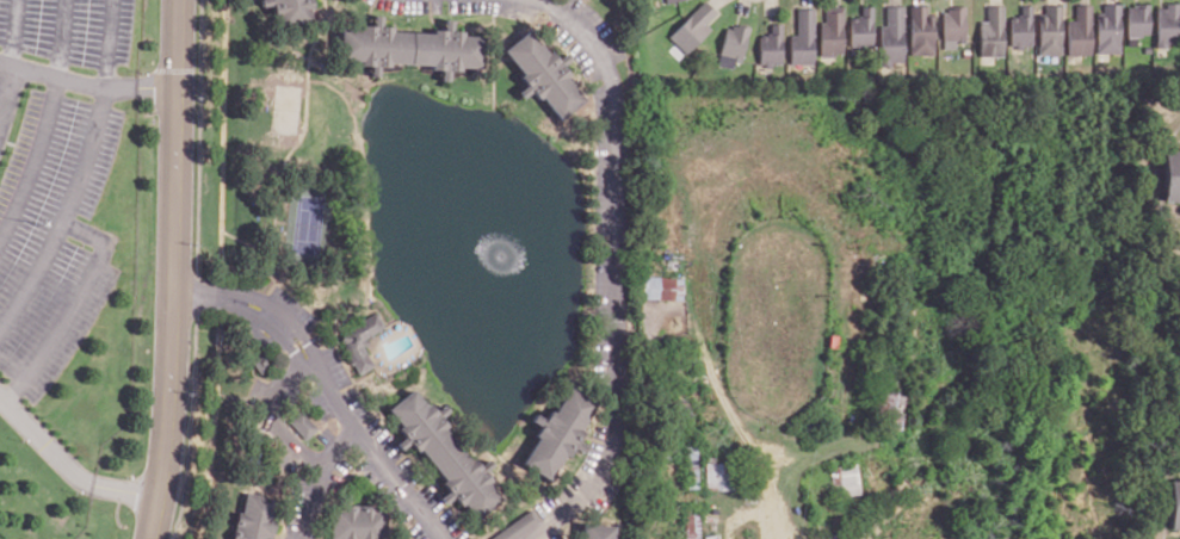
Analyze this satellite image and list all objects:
building: (266, 0)
building: (668, 0)
road: (894, 0)
road: (916, 0)
road: (715, 1)
road: (804, 1)
road: (833, 1)
street lamp: (445, 2)
parking lot: (403, 5)
road: (742, 5)
road: (771, 5)
road: (330, 6)
building: (294, 10)
building: (1168, 20)
building: (952, 21)
building: (1138, 21)
building: (1021, 25)
parking lot: (600, 26)
building: (861, 26)
building: (1111, 26)
building: (692, 27)
building: (1051, 27)
parking lot: (68, 29)
building: (832, 29)
building: (919, 29)
building: (990, 30)
building: (1081, 30)
road: (14, 31)
building: (890, 35)
building: (803, 36)
road: (61, 37)
building: (736, 39)
road: (105, 42)
building: (376, 43)
building: (771, 43)
building: (446, 47)
building: (963, 51)
parking lot: (583, 61)
building: (545, 70)
road: (86, 83)
road: (7, 88)
road: (222, 128)
road: (32, 157)
parking lot: (601, 160)
building: (1173, 173)
road: (278, 178)
road: (66, 211)
park: (307, 219)
street lamp: (35, 222)
parking lot: (50, 230)
road: (245, 240)
road: (173, 269)
road: (620, 272)
building: (662, 285)
road: (197, 295)
street lamp: (247, 302)
parking lot: (291, 303)
road: (72, 305)
road: (285, 316)
road: (276, 329)
building: (359, 337)
building: (262, 361)
parking lot: (336, 364)
parking lot: (257, 392)
road: (721, 392)
building: (895, 411)
road: (277, 421)
building: (303, 421)
building: (1175, 427)
building: (560, 430)
parking lot: (323, 436)
street lamp: (23, 439)
building: (444, 451)
road: (382, 458)
parking lot: (404, 461)
road: (66, 464)
road: (321, 477)
building: (845, 479)
street lamp: (76, 490)
building: (1178, 502)
building: (254, 516)
building: (360, 521)
building: (515, 525)
building: (692, 526)
building: (598, 529)
parking lot: (420, 531)

